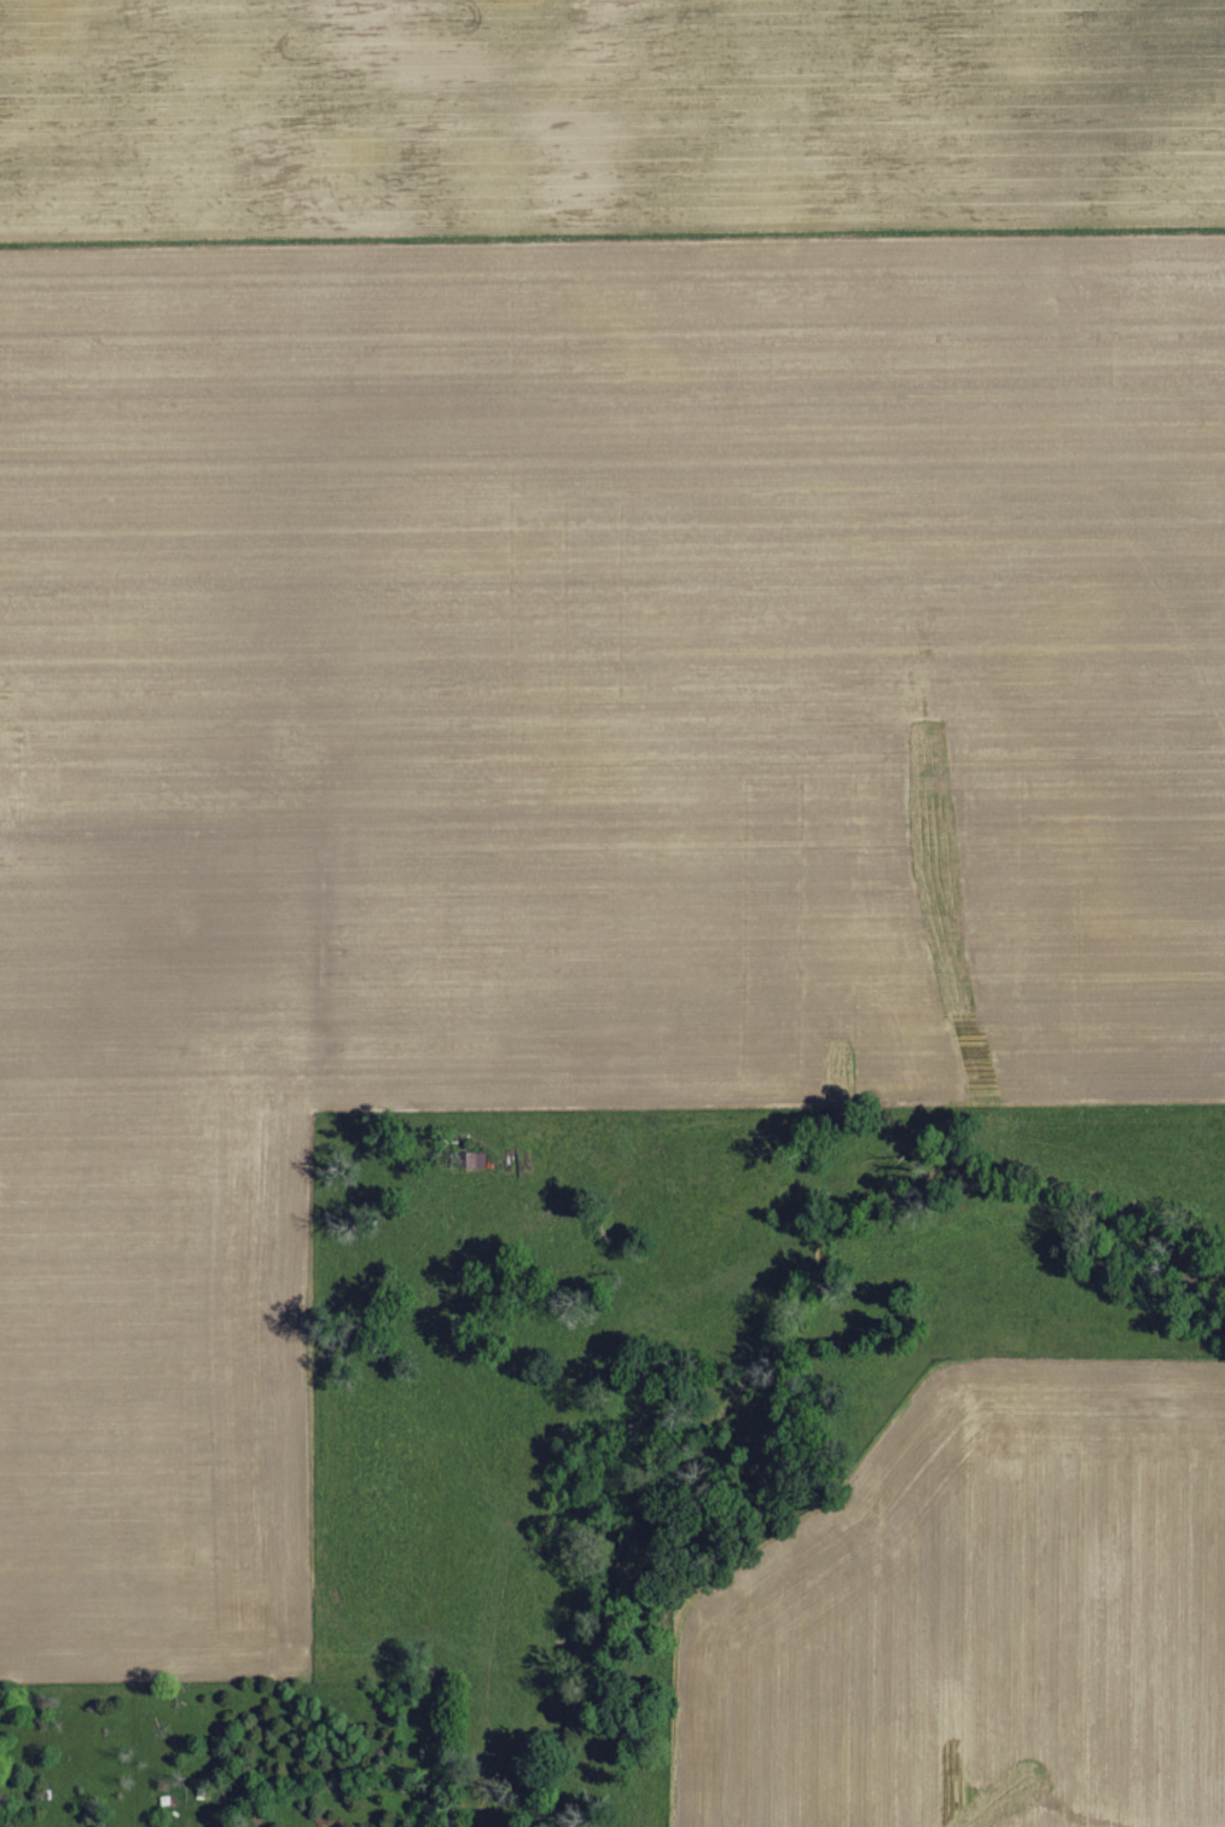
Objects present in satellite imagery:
crop: (558, 649)
crop: (982, 1613)

